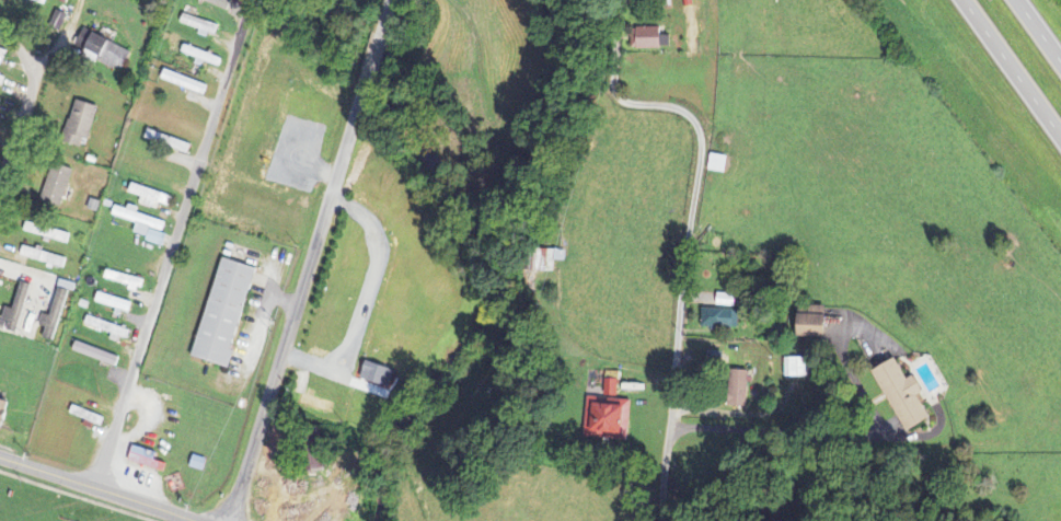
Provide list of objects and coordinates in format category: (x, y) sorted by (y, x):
building: (39, 2)
building: (219, 3)
road: (389, 4)
building: (200, 26)
road: (1039, 30)
building: (653, 39)
road: (22, 46)
building: (104, 50)
road: (374, 54)
building: (3, 57)
road: (1013, 68)
building: (185, 83)
building: (83, 121)
road: (19, 128)
building: (718, 164)
building: (58, 186)
building: (152, 198)
building: (145, 225)
building: (49, 234)
building: (45, 258)
road: (168, 264)
road: (683, 269)
building: (135, 286)
building: (726, 301)
building: (114, 303)
road: (295, 310)
building: (16, 311)
building: (226, 313)
building: (56, 315)
building: (719, 320)
building: (815, 327)
building: (109, 329)
building: (97, 355)
building: (797, 369)
building: (927, 379)
building: (741, 390)
building: (904, 394)
building: (316, 403)
building: (4, 414)
building: (611, 415)
building: (147, 461)
road: (97, 488)

